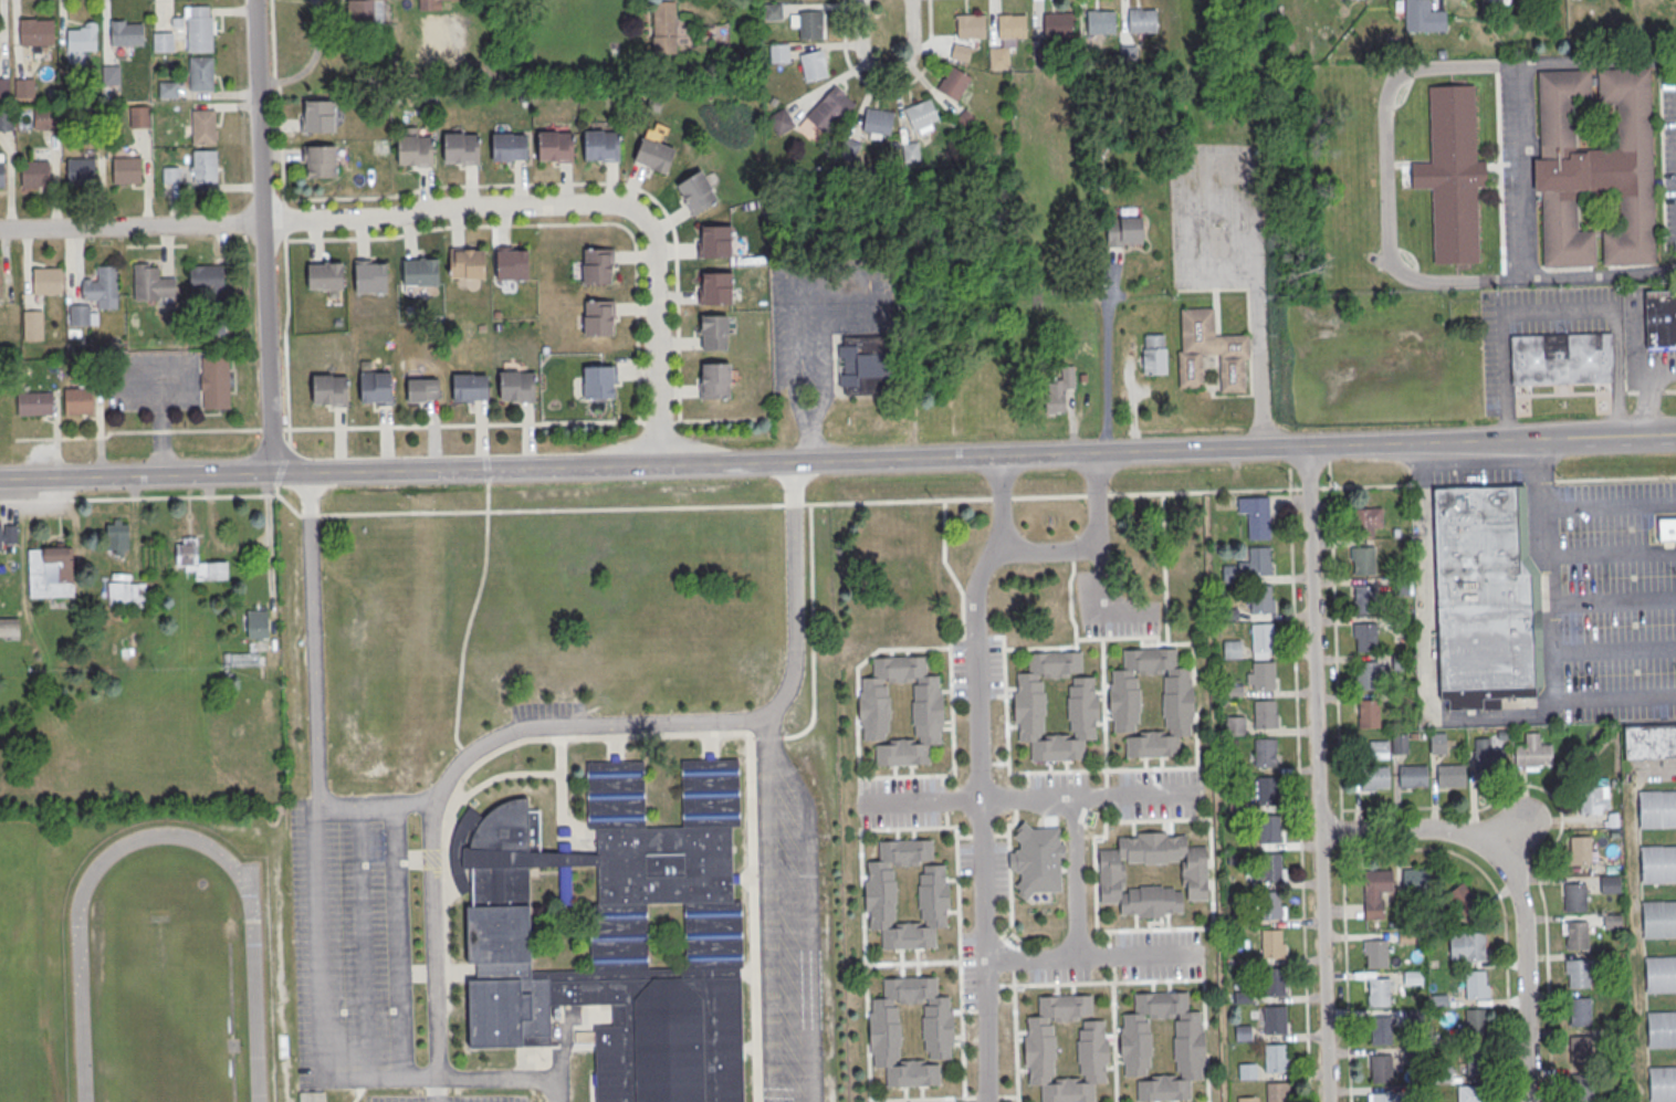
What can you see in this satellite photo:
building: (429, 4)
building: (365, 10)
building: (773, 12)
building: (664, 17)
building: (1422, 17)
building: (1143, 21)
building: (1102, 22)
building: (1058, 24)
building: (810, 25)
road: (844, 27)
building: (972, 27)
building: (1012, 27)
building: (34, 32)
building: (126, 33)
building: (199, 33)
building: (82, 38)
building: (164, 43)
building: (961, 52)
building: (779, 53)
building: (1129, 55)
building: (1046, 56)
building: (999, 59)
building: (814, 66)
road: (888, 71)
building: (201, 74)
building: (111, 75)
road: (912, 82)
building: (953, 83)
building: (4, 88)
building: (24, 88)
building: (169, 90)
road: (280, 98)
building: (830, 111)
building: (921, 114)
building: (318, 115)
building: (139, 117)
building: (7, 119)
building: (45, 119)
building: (966, 120)
building: (781, 122)
building: (878, 122)
building: (205, 127)
building: (601, 143)
building: (555, 144)
building: (509, 146)
building: (462, 147)
building: (416, 149)
building: (654, 149)
building: (848, 149)
building: (911, 153)
parking lot: (1669, 159)
building: (320, 160)
building: (205, 166)
building: (1595, 167)
building: (81, 170)
building: (127, 170)
road: (1522, 170)
parking lot: (1510, 172)
building: (35, 174)
road: (1382, 174)
building: (1, 175)
building: (171, 175)
building: (1452, 175)
building: (696, 191)
road: (455, 207)
road: (284, 220)
road: (132, 227)
road: (650, 228)
building: (1124, 231)
road: (263, 235)
building: (715, 241)
building: (512, 262)
building: (467, 263)
building: (597, 265)
building: (420, 271)
road: (819, 272)
building: (325, 275)
building: (370, 276)
building: (207, 277)
building: (48, 281)
building: (150, 283)
building: (103, 287)
building: (716, 288)
road: (1558, 311)
building: (80, 315)
building: (599, 316)
building: (1661, 318)
road: (870, 319)
building: (33, 322)
building: (715, 332)
road: (1256, 332)
road: (284, 342)
road: (1108, 347)
road: (658, 350)
building: (1211, 351)
building: (1154, 355)
building: (1561, 358)
building: (863, 364)
building: (714, 380)
parking lot: (151, 381)
building: (598, 381)
building: (216, 382)
building: (518, 386)
building: (377, 387)
building: (470, 387)
building: (331, 389)
building: (422, 389)
building: (1059, 391)
building: (78, 400)
building: (35, 403)
road: (392, 426)
road: (163, 428)
road: (1631, 435)
road: (946, 455)
road: (282, 464)
road: (289, 472)
road: (136, 475)
road: (1498, 481)
road: (1203, 490)
road: (275, 491)
road: (1094, 494)
road: (1048, 495)
road: (1001, 496)
road: (897, 501)
road: (793, 503)
road: (1612, 504)
road: (387, 512)
building: (1256, 516)
building: (1362, 524)
building: (1666, 529)
building: (8, 534)
building: (117, 535)
road: (1089, 544)
road: (1071, 556)
building: (198, 560)
building: (1260, 560)
building: (1364, 560)
road: (1164, 567)
building: (51, 570)
building: (1400, 587)
building: (126, 594)
road: (794, 594)
building: (1261, 599)
building: (1365, 599)
building: (1481, 599)
building: (1229, 615)
building: (256, 623)
building: (1401, 625)
road: (810, 628)
building: (9, 629)
road: (1555, 629)
road: (975, 637)
road: (1119, 637)
building: (1366, 637)
building: (1263, 638)
road: (1073, 639)
road: (1334, 640)
road: (1425, 644)
building: (1232, 650)
building: (241, 659)
building: (1401, 662)
road: (1193, 674)
building: (1371, 675)
building: (1264, 676)
building: (1234, 692)
road: (314, 694)
building: (1402, 701)
building: (1123, 703)
road: (951, 705)
building: (1029, 706)
building: (873, 711)
building: (1265, 714)
building: (1368, 714)
building: (1235, 726)
building: (1649, 741)
building: (1400, 744)
building: (1437, 744)
building: (1379, 747)
building: (1266, 753)
building: (1533, 753)
building: (1488, 756)
road: (1027, 772)
road: (1317, 774)
road: (980, 775)
building: (1450, 776)
building: (1413, 777)
building: (1374, 778)
road: (1299, 784)
building: (1267, 790)
road: (1088, 794)
road: (923, 799)
building: (1590, 800)
road: (1015, 802)
building: (1237, 806)
building: (1657, 808)
road: (432, 819)
building: (1269, 829)
road: (983, 833)
road: (1001, 833)
road: (964, 835)
road: (1554, 838)
building: (1580, 851)
building: (1037, 860)
building: (1658, 863)
road: (1008, 864)
building: (1270, 867)
road: (1517, 868)
building: (1111, 875)
road: (1073, 877)
building: (1416, 880)
building: (1378, 881)
road: (957, 884)
building: (1610, 885)
building: (880, 894)
building: (1462, 898)
building: (1575, 898)
road: (806, 905)
building: (1270, 905)
building: (1658, 919)
building: (1239, 920)
building: (1613, 922)
building: (614, 932)
building: (1577, 935)
road: (398, 937)
road: (363, 940)
building: (1272, 945)
building: (1467, 947)
building: (1376, 953)
road: (1093, 957)
road: (1013, 965)
road: (1345, 973)
track: (166, 974)
building: (1578, 974)
building: (1659, 974)
road: (1171, 978)
building: (1413, 978)
building: (1275, 982)
building: (1477, 985)
building: (1379, 991)
road: (323, 996)
building: (1243, 997)
park: (161, 1009)
road: (1507, 1011)
building: (1580, 1012)
building: (1414, 1018)
building: (1275, 1019)
building: (1476, 1024)
building: (1661, 1029)
building: (937, 1030)
building: (1381, 1030)
building: (1243, 1033)
road: (1014, 1036)
road: (1113, 1041)
building: (1134, 1046)
building: (1093, 1049)
building: (1581, 1051)
building: (1276, 1057)
building: (1416, 1057)
building: (1477, 1060)
building: (1381, 1068)
building: (1247, 1072)
building: (1443, 1074)
building: (1662, 1083)
building: (1582, 1089)
building: (1277, 1091)
building: (1474, 1093)
building: (311, 1095)
road: (985, 1095)
road: (1006, 1095)
building: (1383, 1096)
road: (894, 1099)
building: (1247, 1099)

